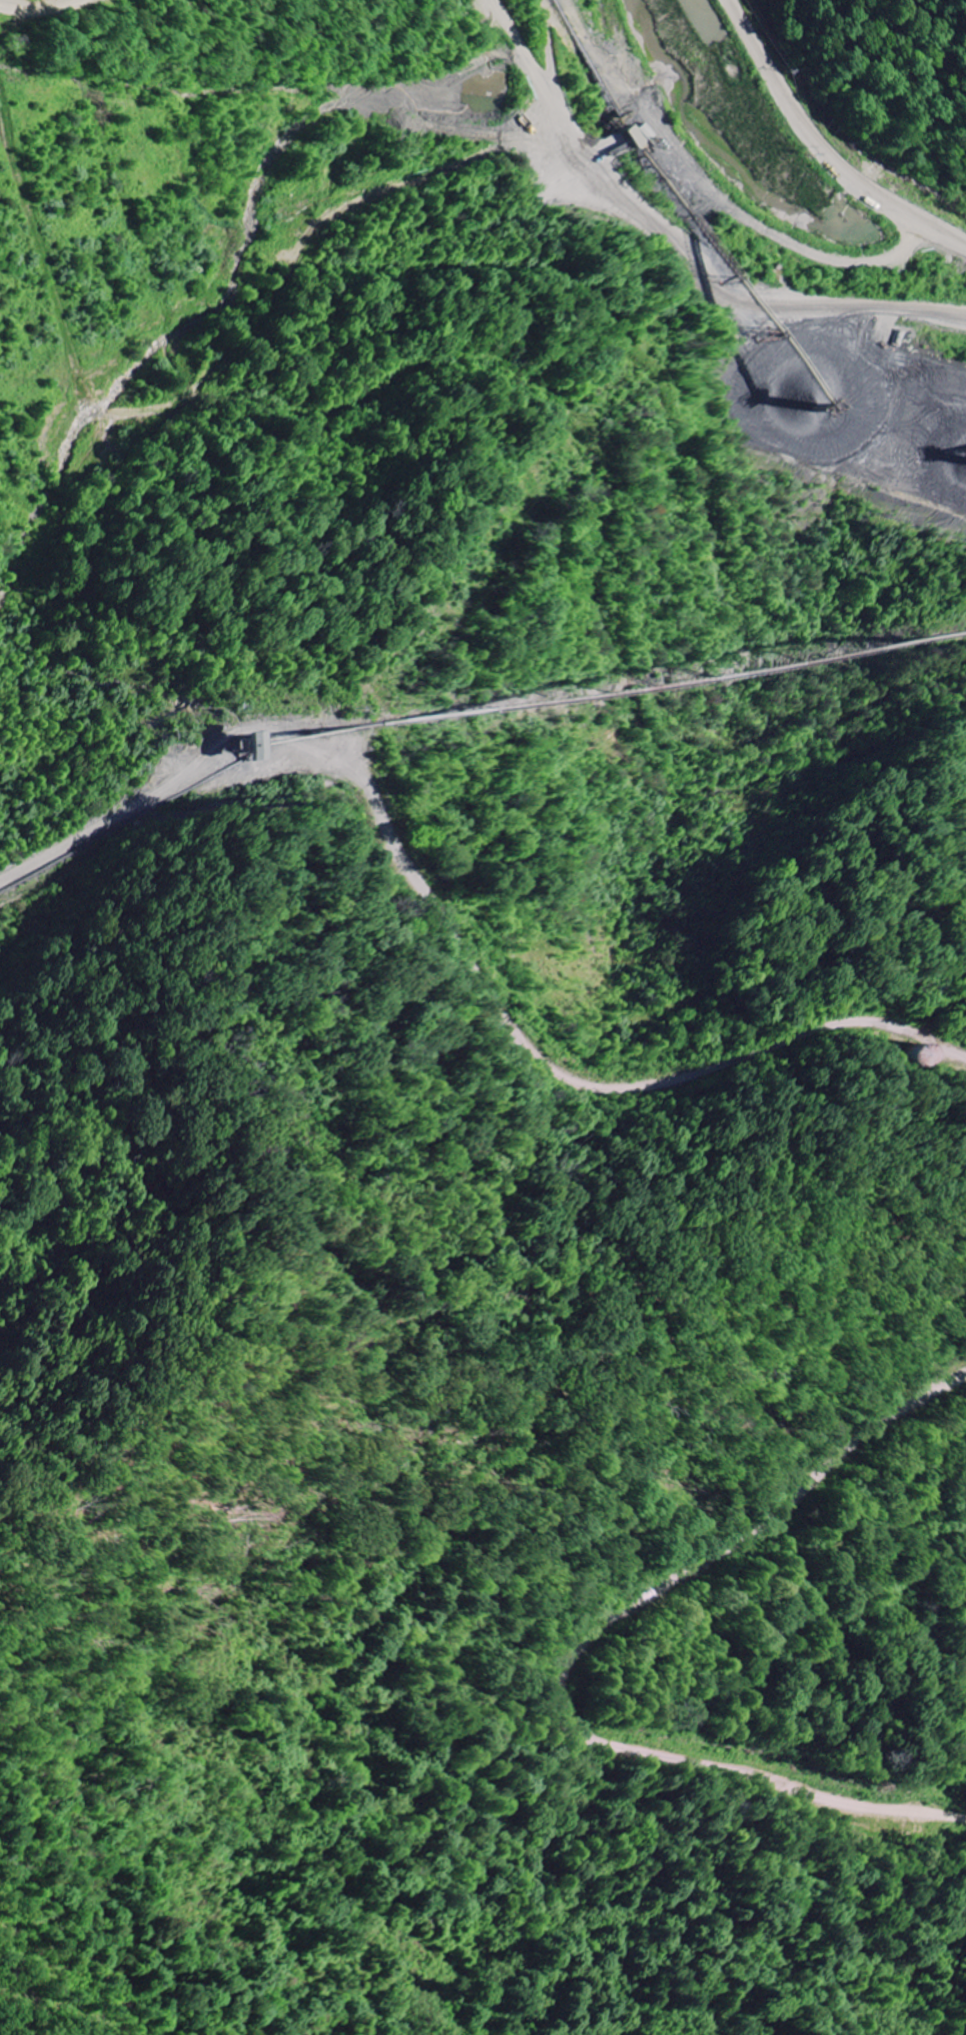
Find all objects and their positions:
road: (782, 170)

